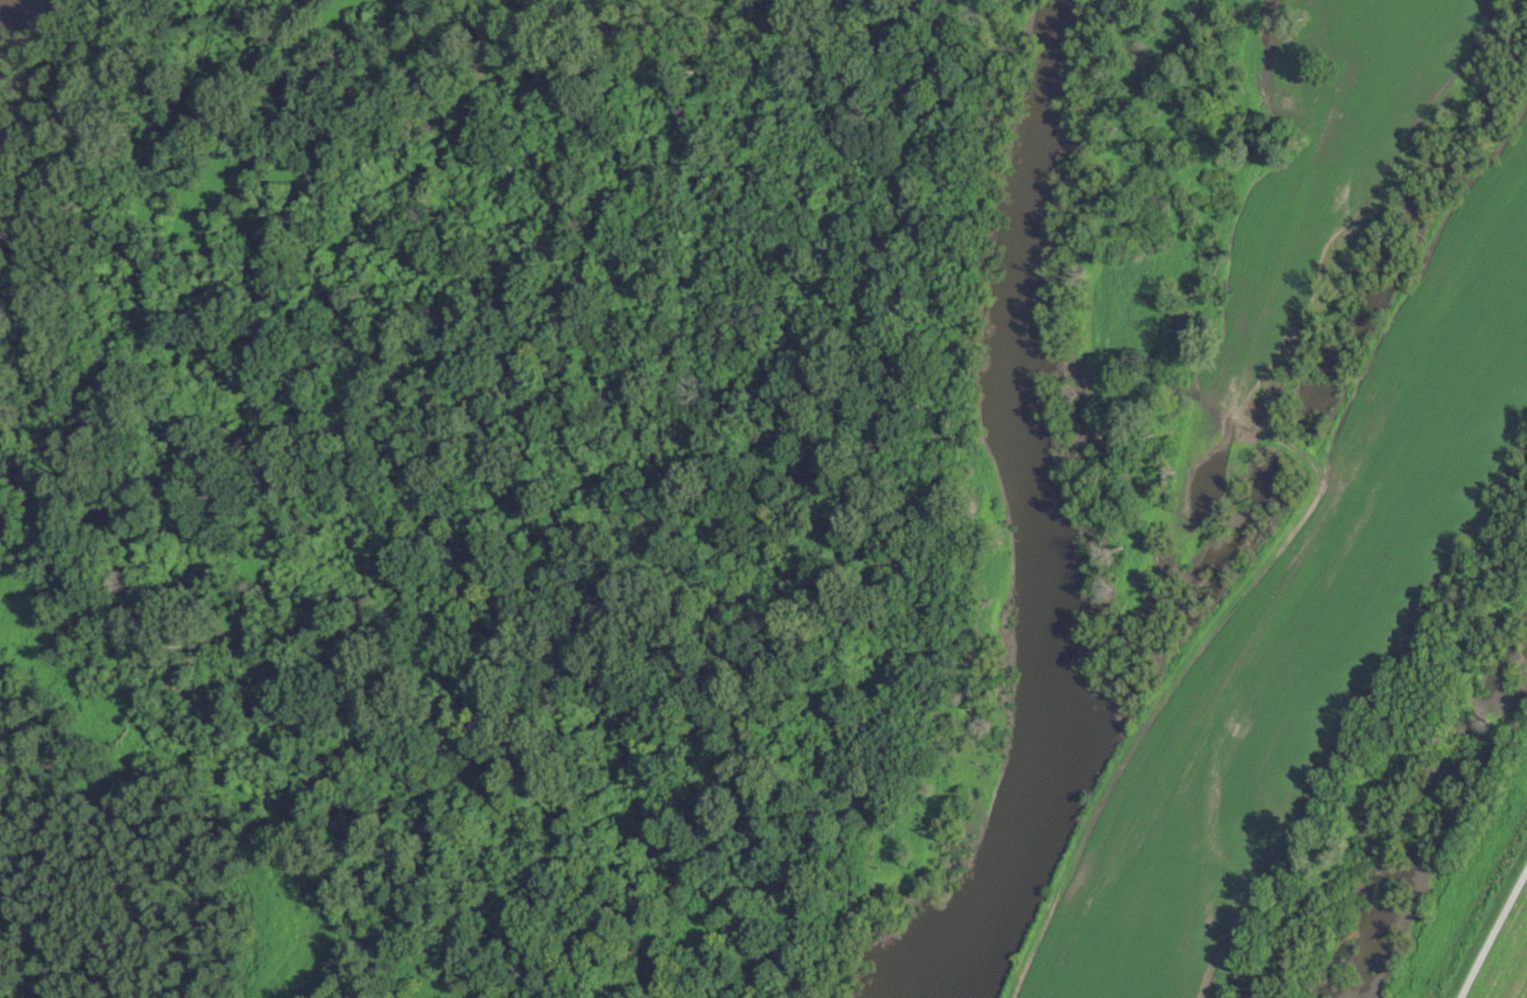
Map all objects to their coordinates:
road: (1493, 933)

